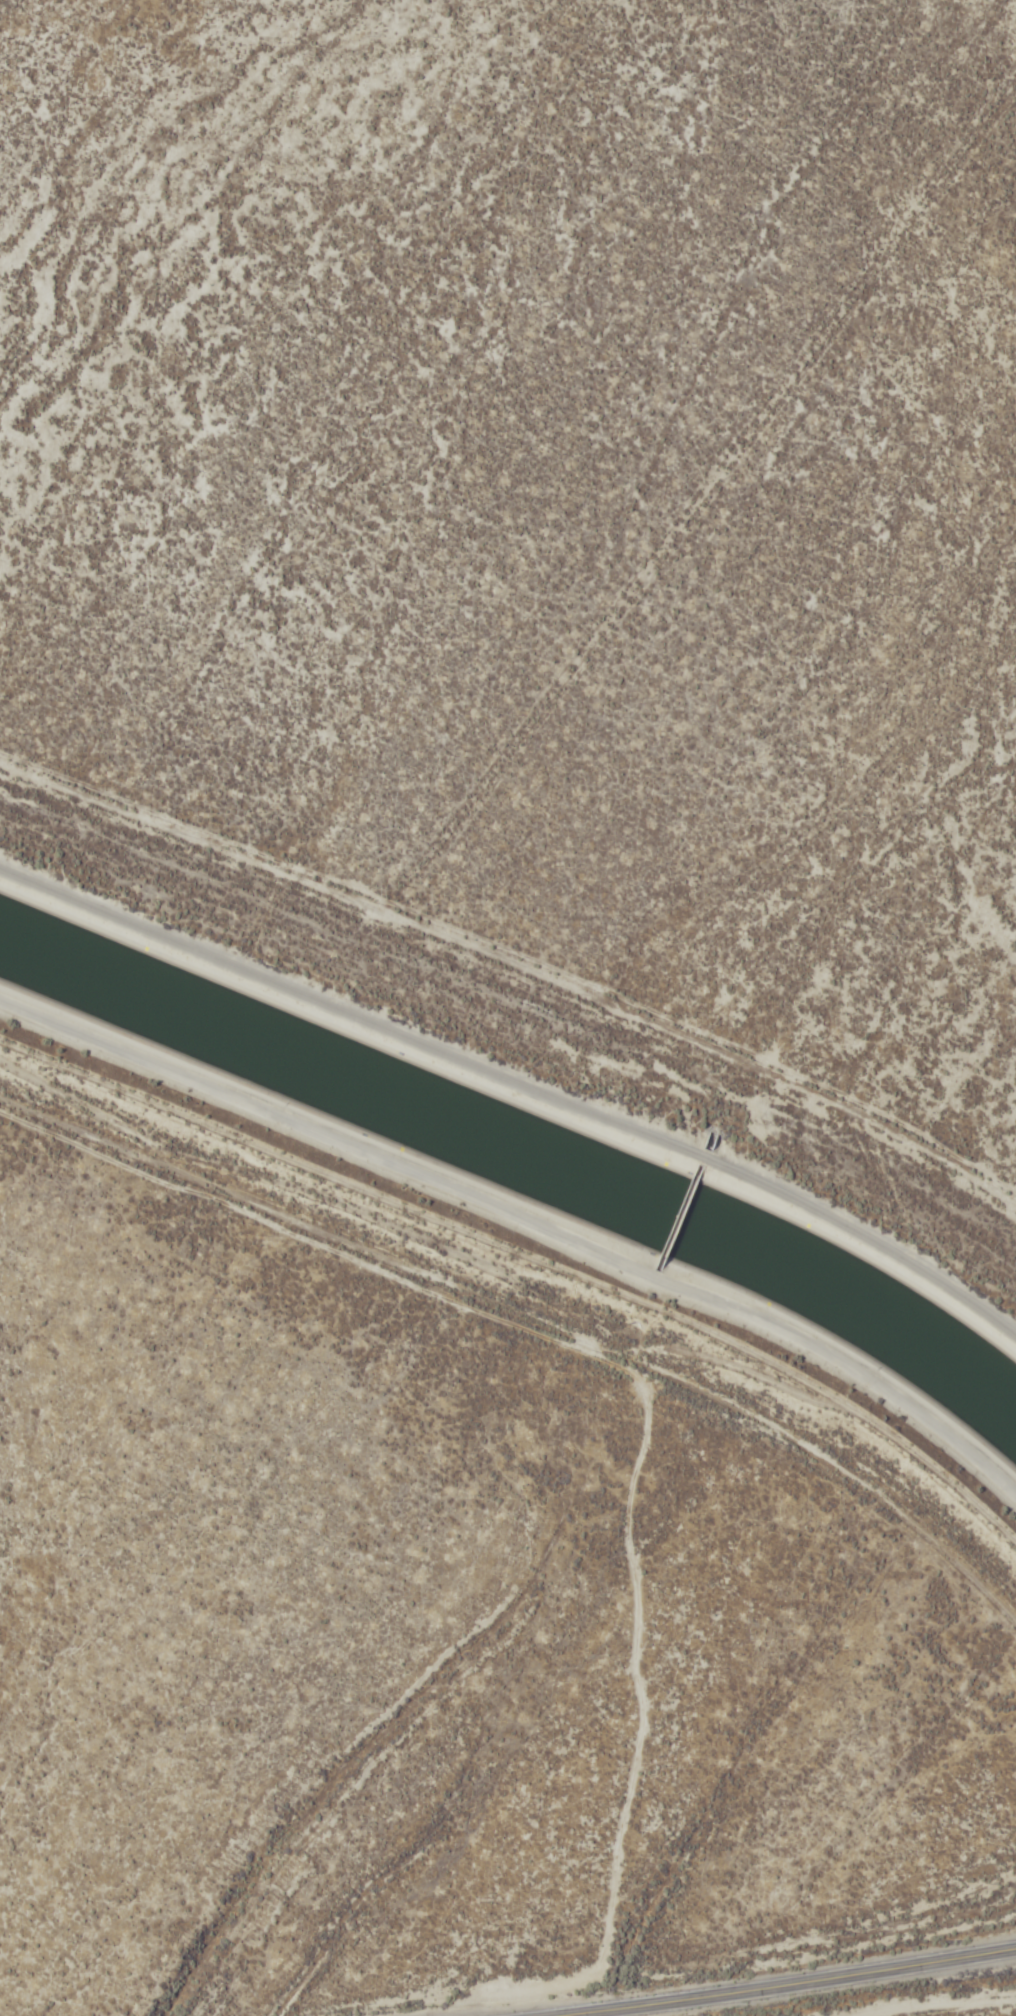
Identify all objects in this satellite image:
crop: (547, 496)
road: (518, 1058)
road: (525, 1258)
road: (788, 1983)

